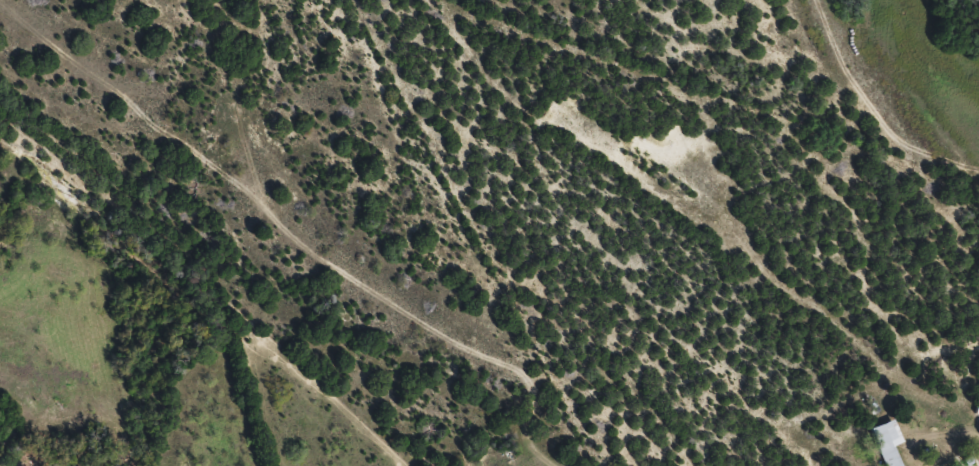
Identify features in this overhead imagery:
road: (914, 63)
building: (887, 446)

